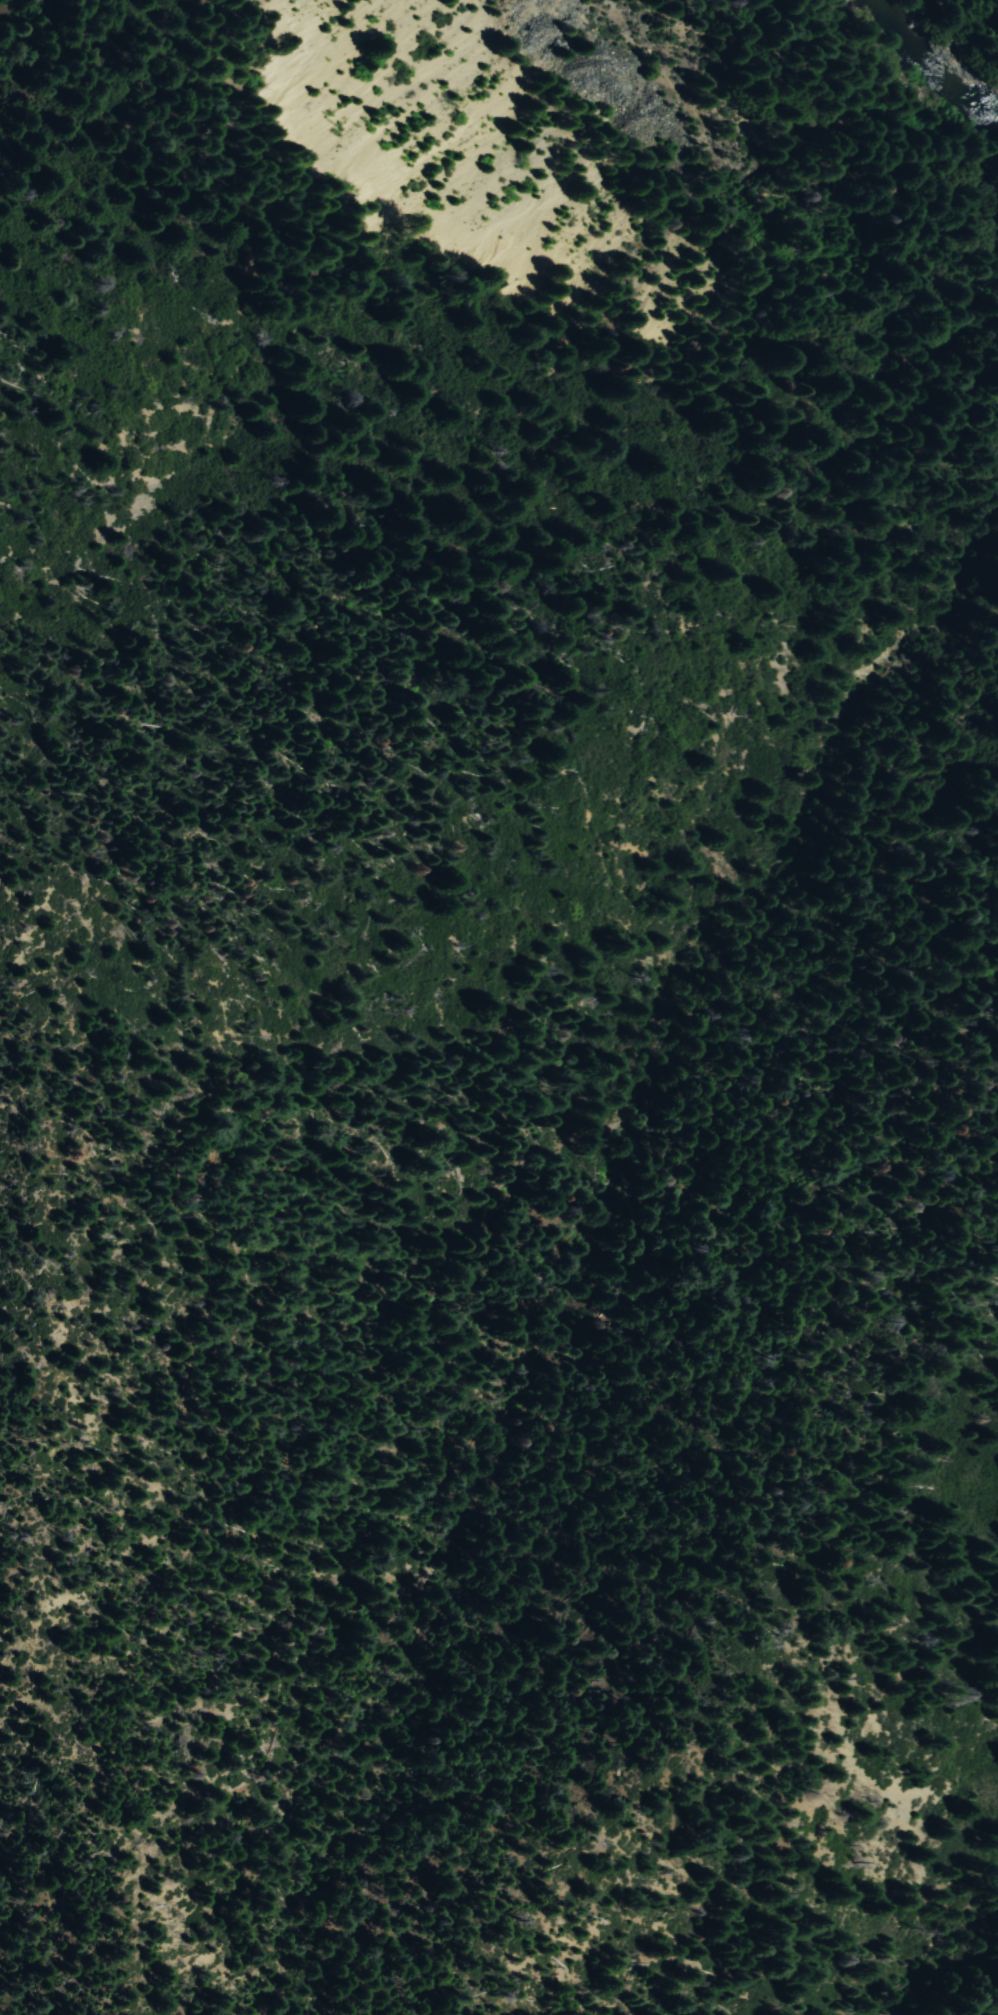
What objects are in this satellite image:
river: (935, 64)

